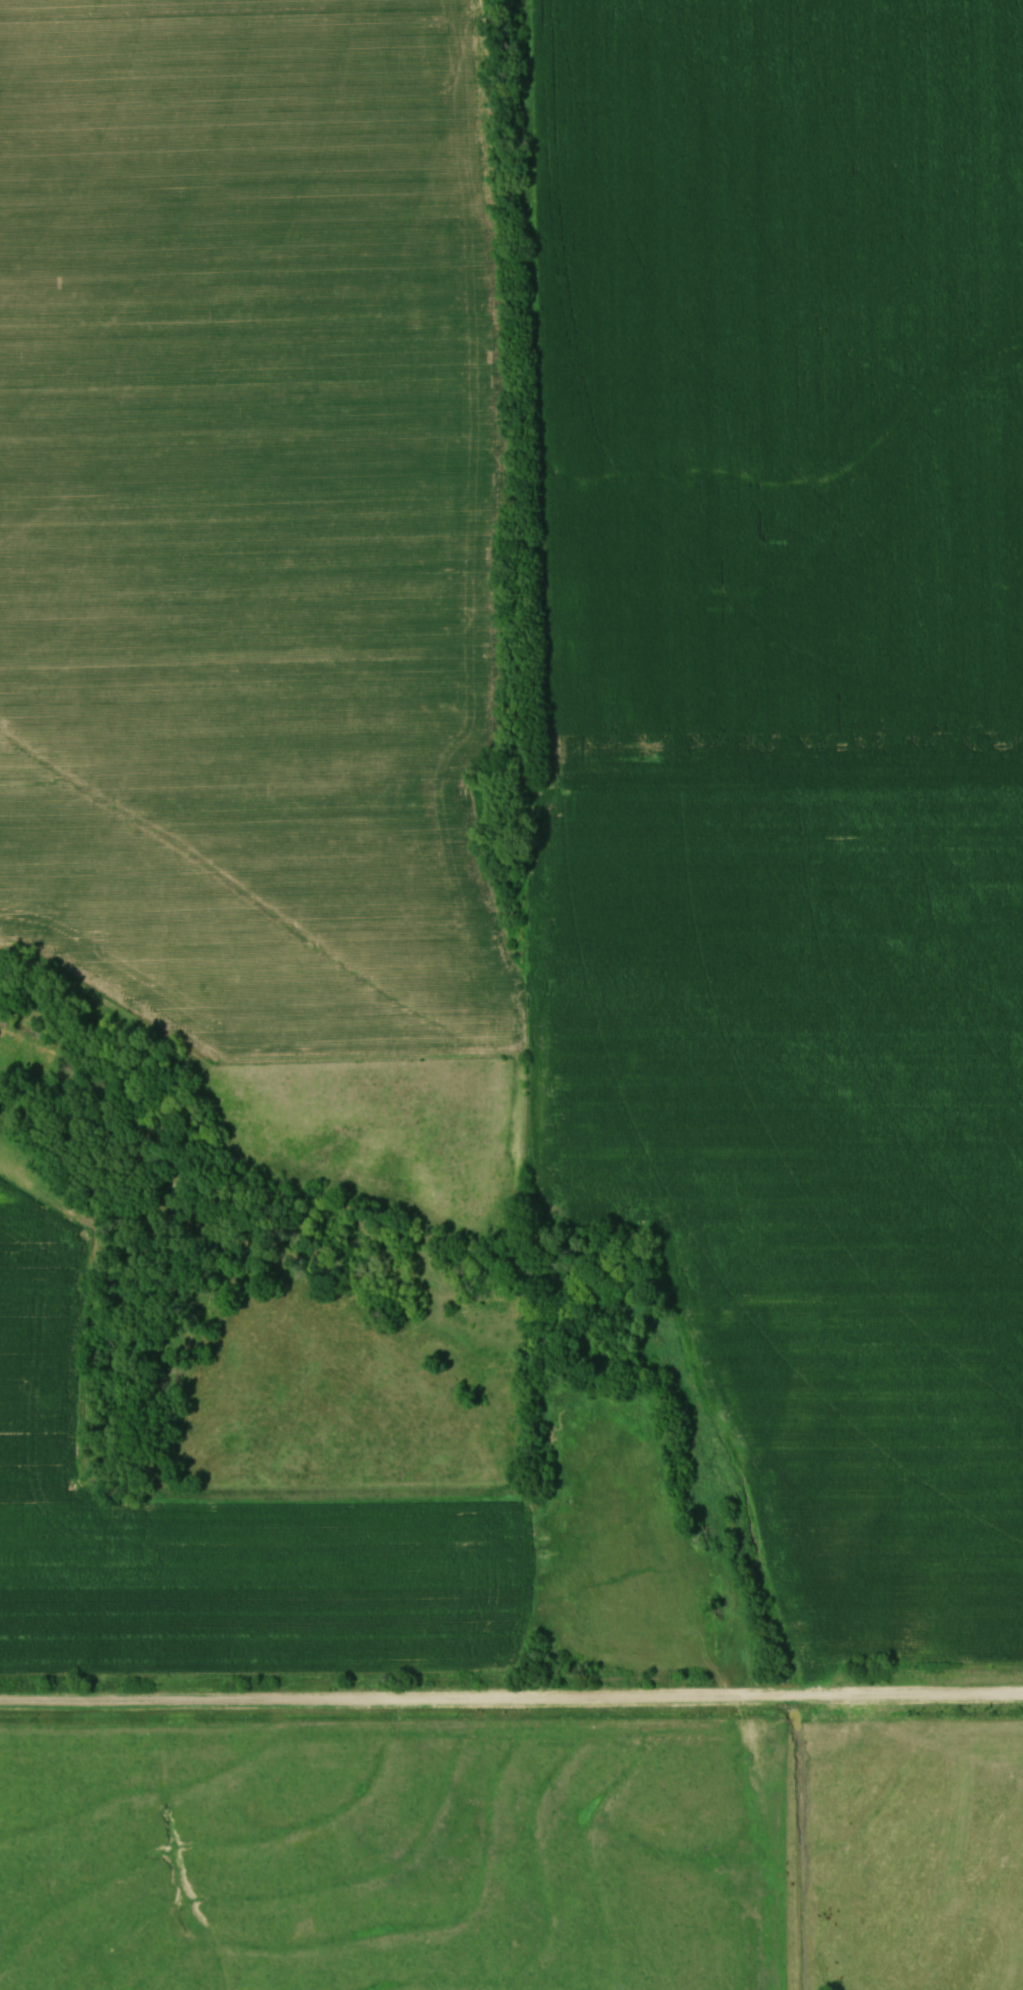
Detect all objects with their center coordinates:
road: (511, 1707)

